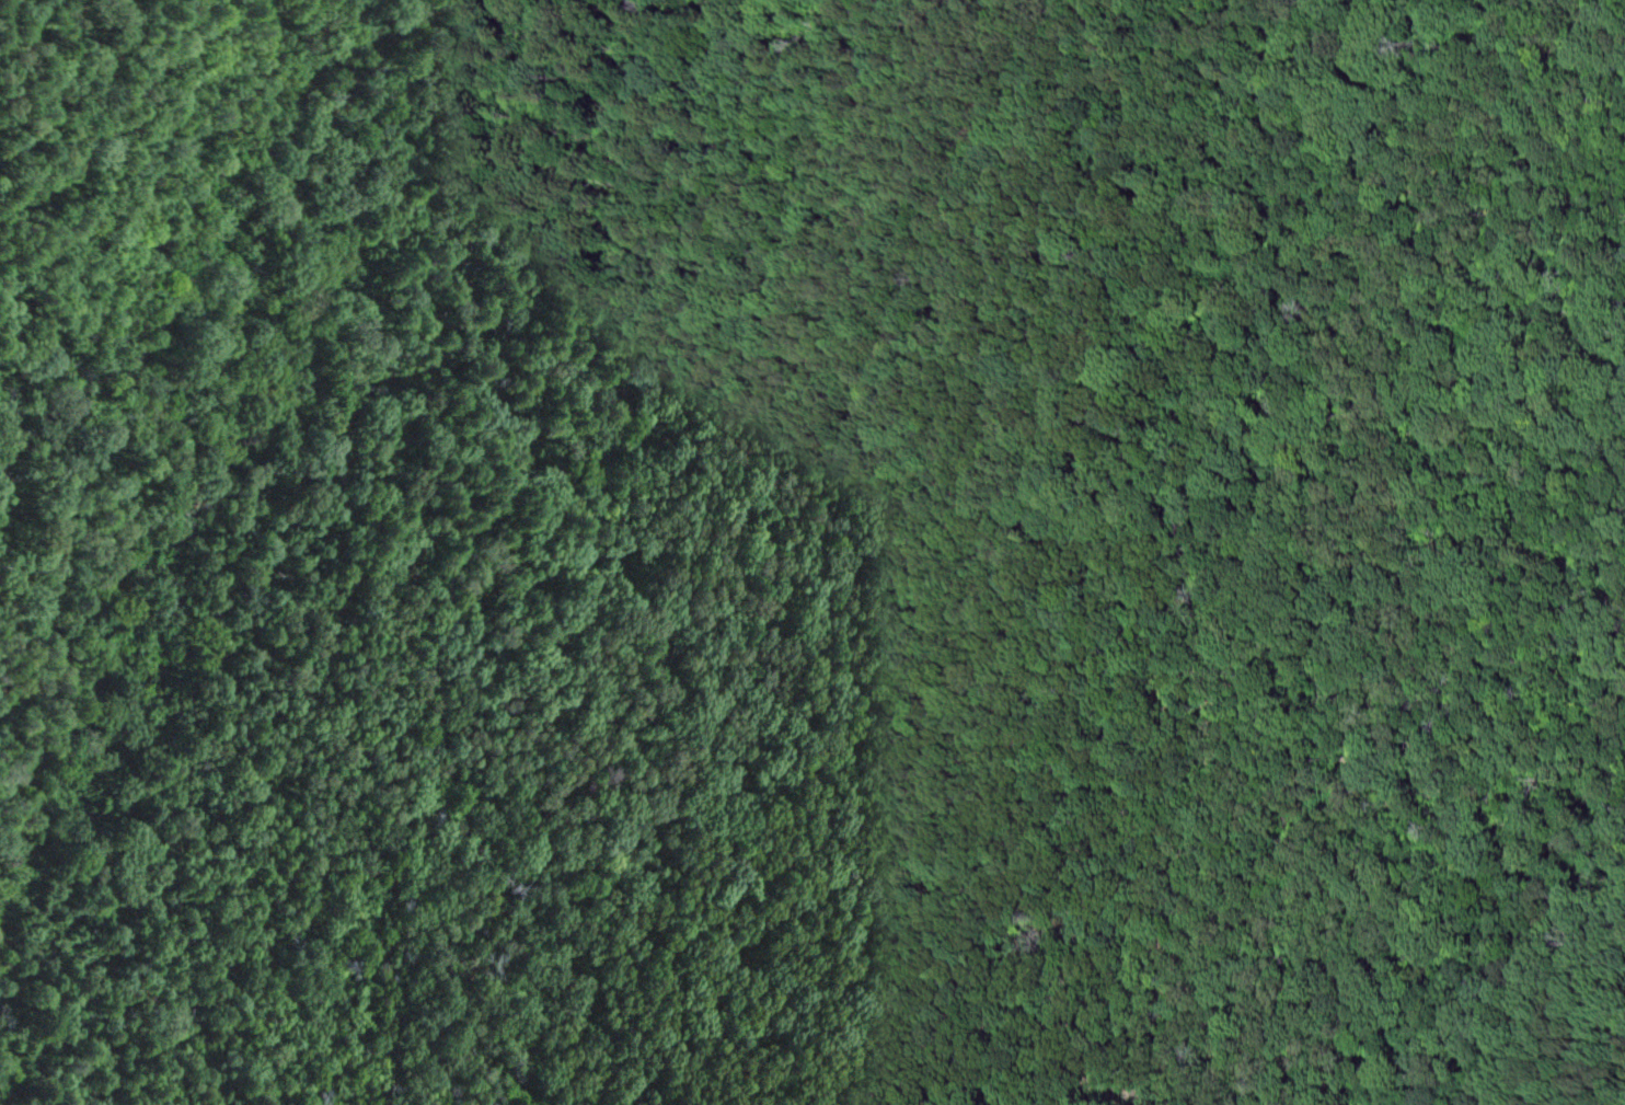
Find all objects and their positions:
road: (72, 321)
road: (117, 419)

